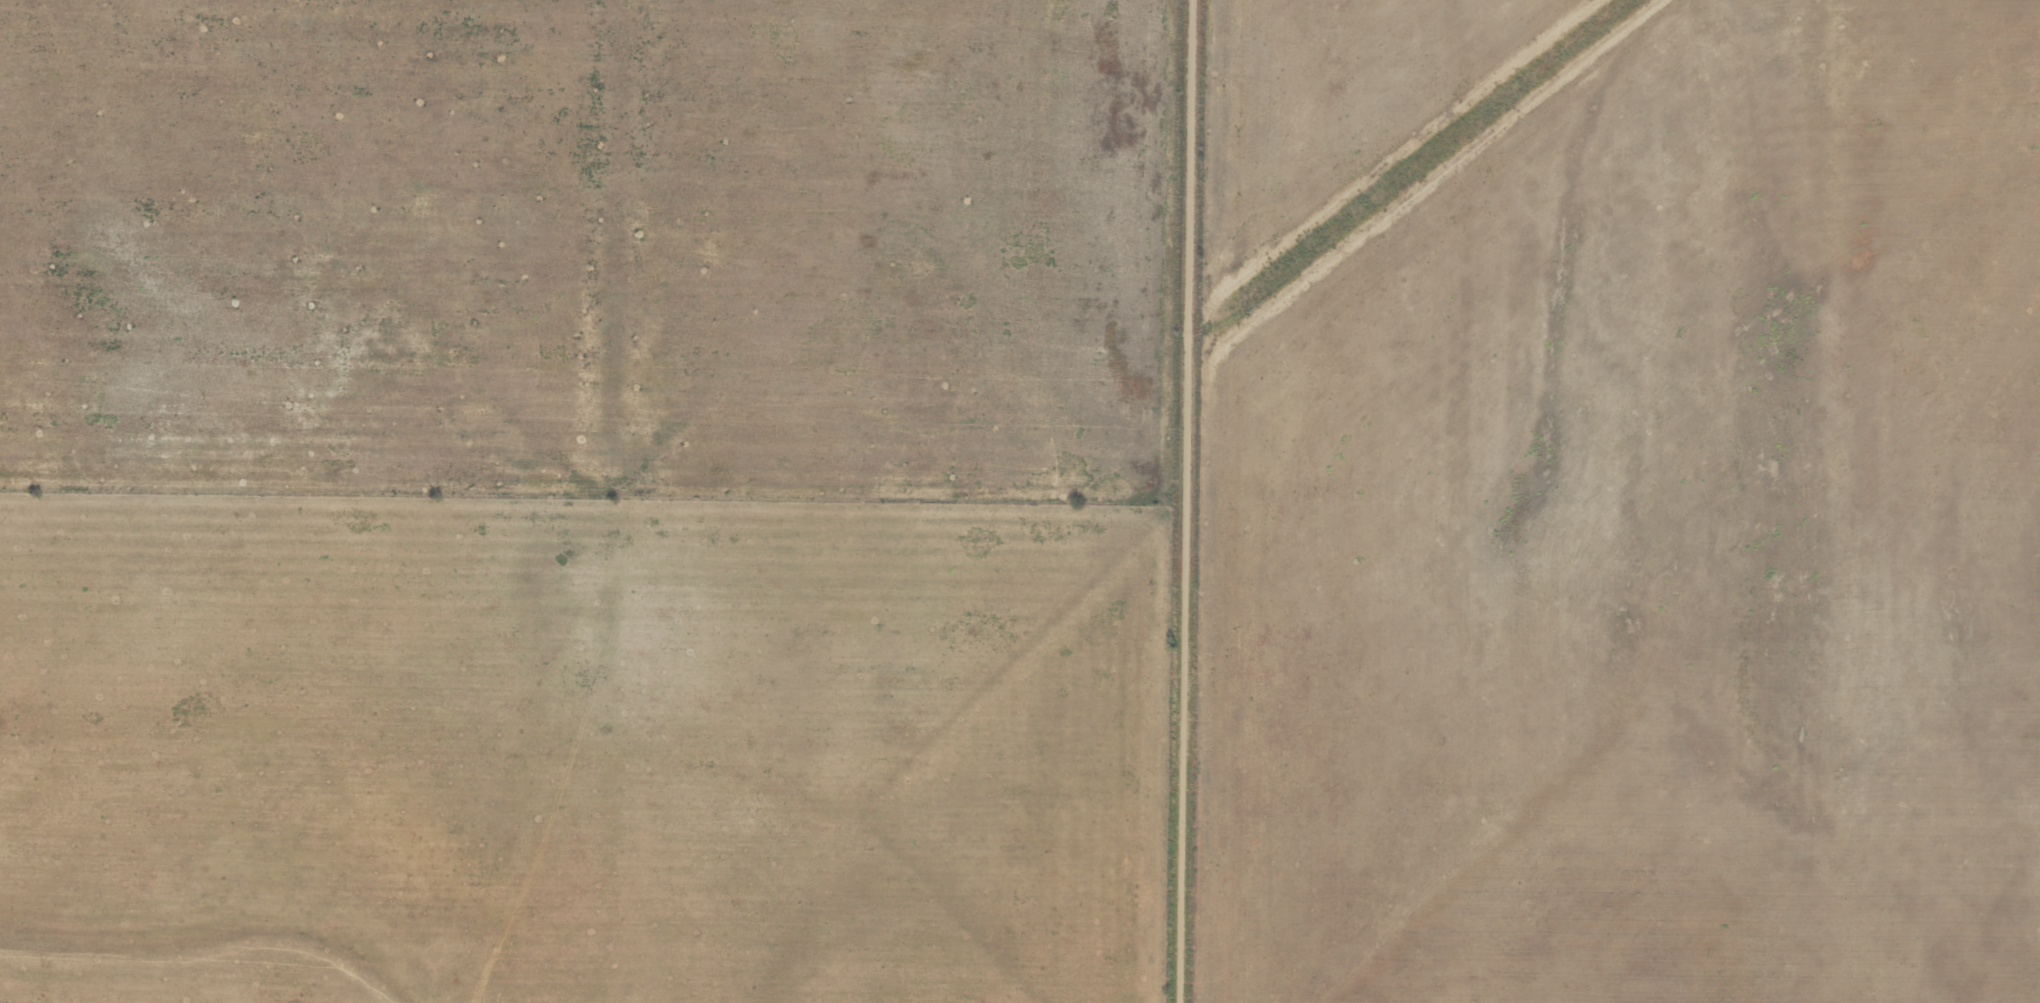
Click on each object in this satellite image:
road: (1189, 501)

